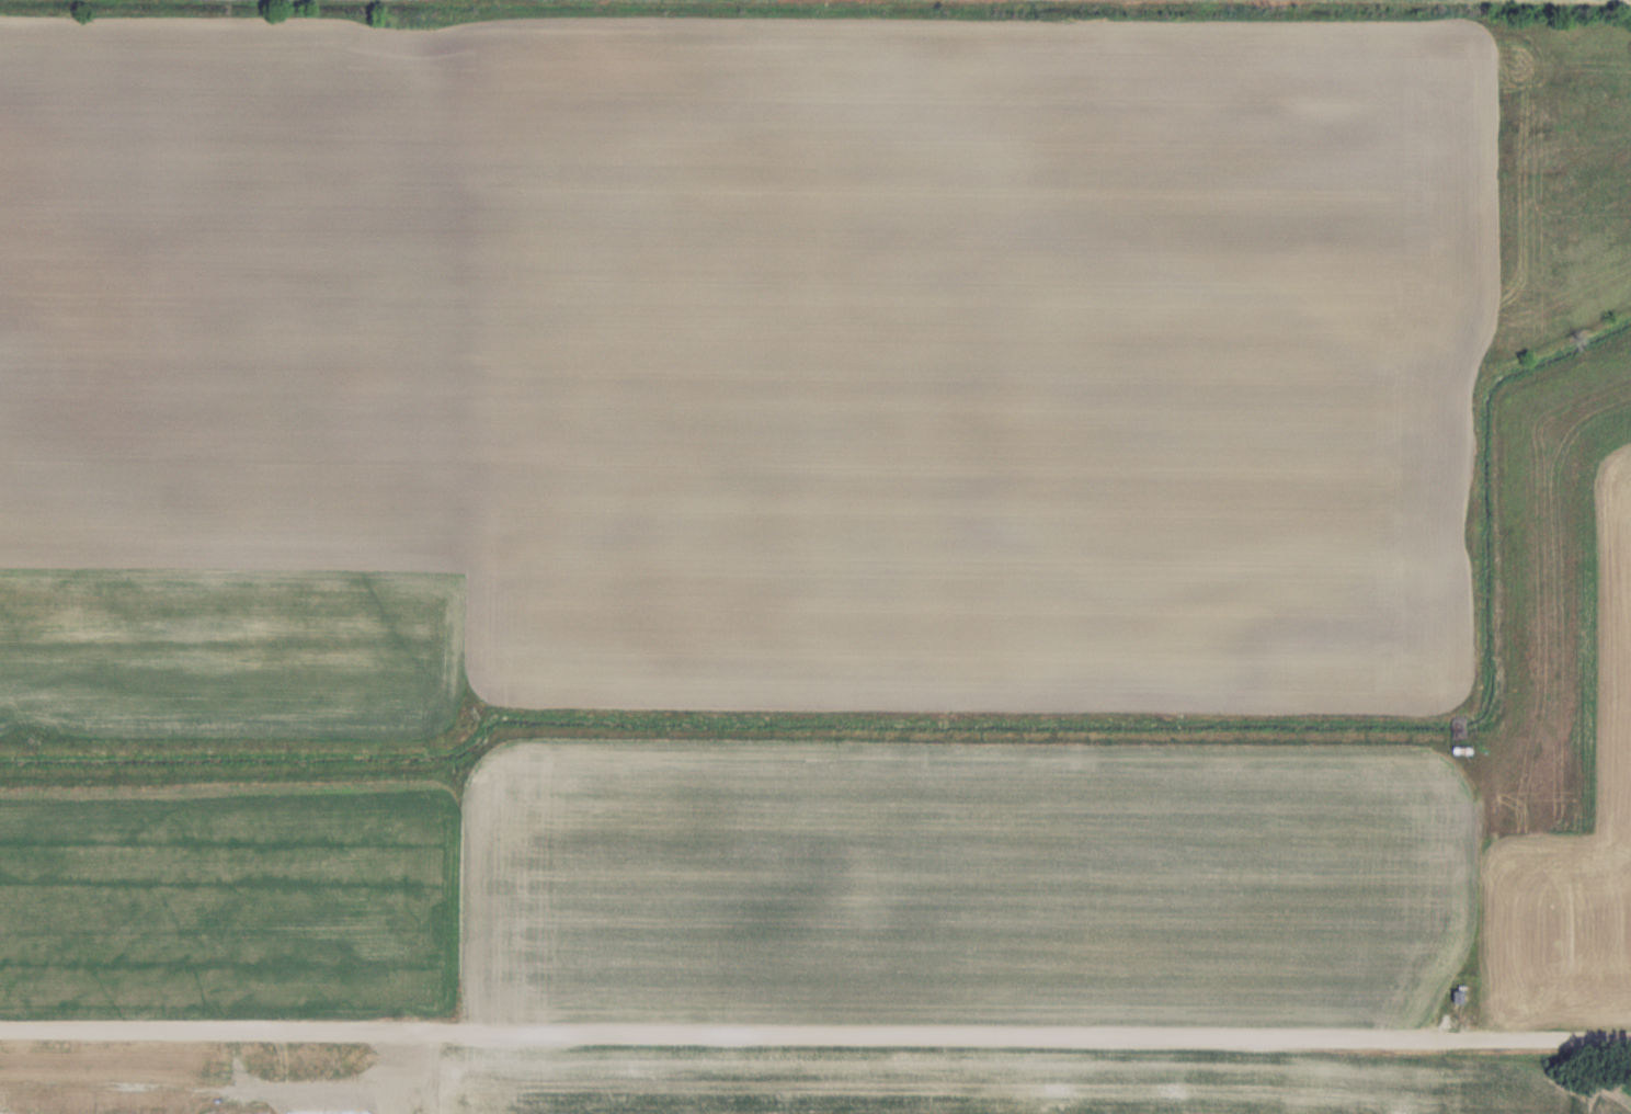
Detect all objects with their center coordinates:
building: (1458, 997)
road: (816, 1031)

